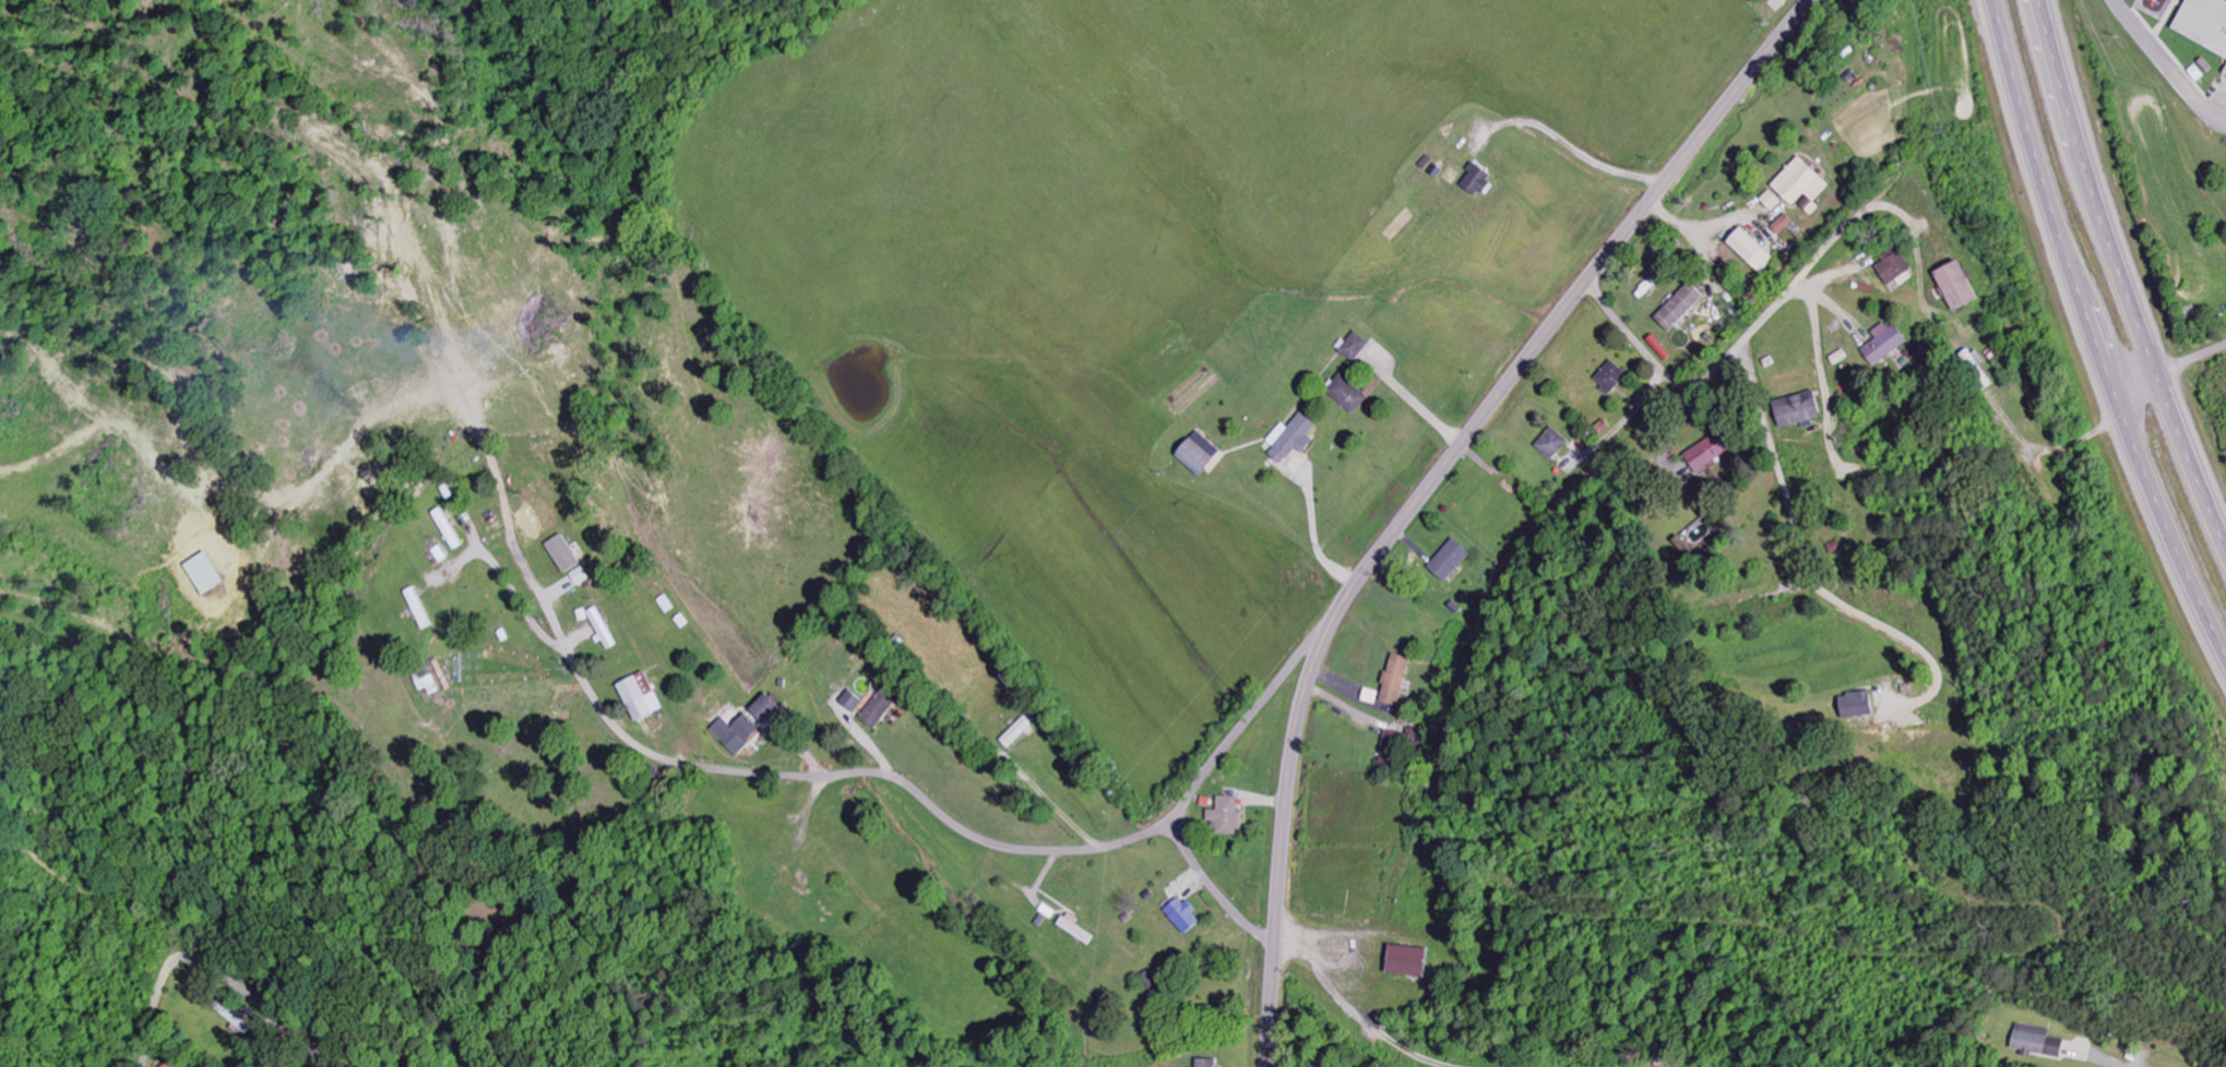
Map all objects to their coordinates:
building: (2203, 25)
building: (1474, 181)
building: (1798, 183)
building: (1770, 201)
building: (1779, 225)
building: (1749, 250)
building: (1892, 268)
road: (2122, 276)
building: (1953, 287)
building: (1678, 308)
road: (2090, 337)
road: (1743, 339)
building: (1882, 344)
building: (1353, 347)
building: (1978, 370)
building: (1609, 377)
building: (1345, 394)
building: (1796, 410)
building: (1289, 439)
building: (1551, 444)
building: (1194, 453)
building: (1702, 455)
road: (1429, 485)
road: (512, 542)
building: (570, 560)
building: (1448, 561)
building: (210, 574)
building: (666, 604)
building: (605, 627)
building: (1394, 680)
building: (428, 681)
building: (645, 697)
building: (855, 702)
building: (1855, 706)
building: (883, 707)
building: (770, 711)
building: (1022, 730)
building: (738, 733)
road: (1212, 767)
building: (1224, 816)
road: (960, 844)
building: (1180, 914)
building: (1072, 927)
building: (1402, 961)
road: (212, 969)
building: (2033, 1041)
building: (1204, 1063)

